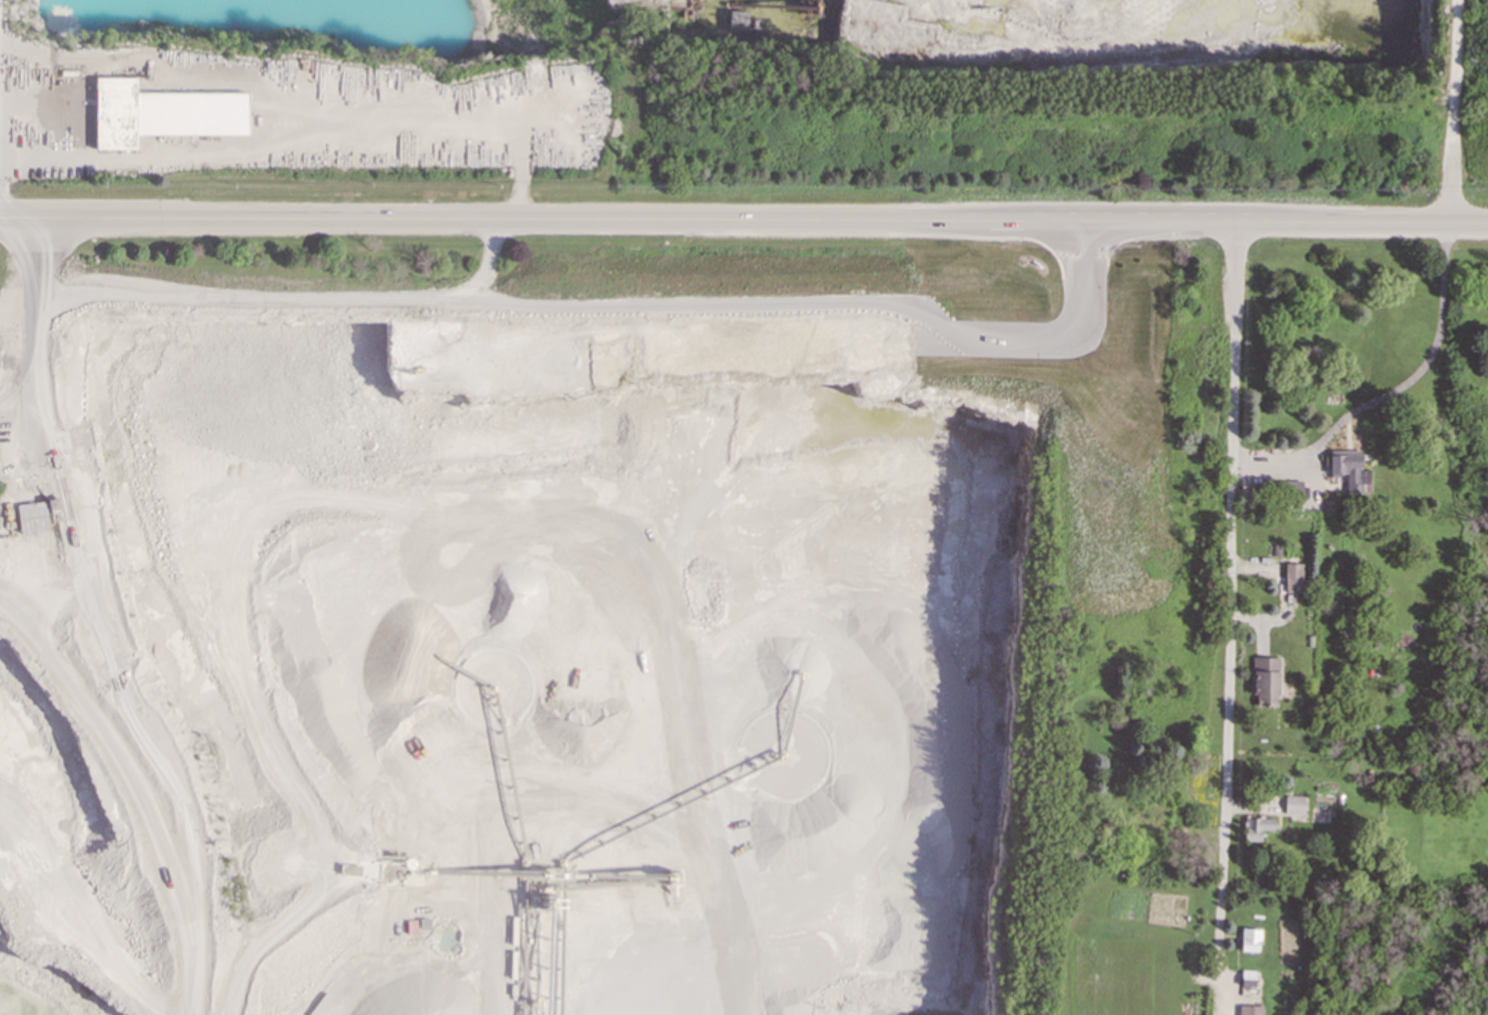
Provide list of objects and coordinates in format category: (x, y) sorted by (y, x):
road: (1451, 110)
building: (117, 112)
road: (744, 222)
road: (39, 283)
building: (9, 306)
road: (559, 371)
road: (1393, 390)
building: (1348, 469)
building: (1293, 488)
quarry: (642, 489)
building: (32, 516)
building: (1293, 578)
road: (1229, 619)
building: (1265, 680)
building: (1293, 804)
building: (1256, 827)
building: (1250, 939)
building: (1247, 978)
building: (1249, 1009)

